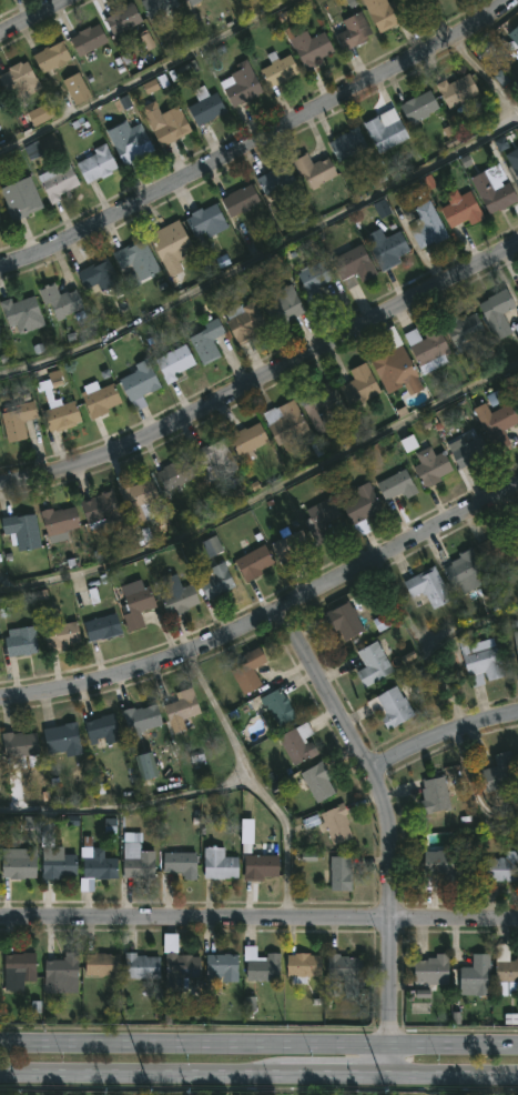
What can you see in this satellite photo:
building: (191, 2)
building: (158, 7)
building: (386, 12)
road: (32, 18)
building: (124, 20)
building: (352, 30)
building: (512, 38)
building: (87, 39)
building: (308, 46)
building: (51, 56)
road: (467, 59)
building: (277, 69)
road: (146, 74)
building: (16, 76)
building: (241, 83)
building: (74, 87)
building: (456, 89)
building: (0, 99)
building: (204, 106)
building: (418, 106)
building: (170, 125)
building: (385, 129)
road: (257, 138)
building: (346, 142)
building: (131, 143)
building: (42, 145)
building: (95, 162)
building: (313, 168)
building: (515, 168)
building: (57, 179)
building: (277, 179)
building: (492, 189)
building: (20, 197)
building: (240, 200)
building: (460, 208)
building: (205, 220)
building: (426, 224)
building: (0, 225)
building: (171, 244)
building: (387, 248)
road: (265, 259)
building: (135, 261)
building: (352, 264)
building: (97, 274)
building: (314, 281)
building: (59, 300)
building: (278, 303)
building: (496, 312)
building: (21, 313)
building: (243, 320)
building: (516, 327)
building: (464, 333)
building: (205, 340)
building: (517, 340)
building: (428, 348)
building: (173, 362)
building: (395, 370)
road: (264, 375)
building: (139, 380)
building: (358, 385)
building: (99, 398)
building: (57, 408)
building: (318, 408)
building: (17, 420)
building: (284, 421)
building: (497, 424)
building: (246, 438)
building: (467, 449)
building: (214, 456)
building: (429, 466)
building: (174, 473)
building: (396, 485)
building: (135, 496)
road: (265, 500)
building: (359, 505)
building: (100, 509)
building: (321, 519)
building: (58, 522)
building: (21, 530)
building: (517, 535)
building: (288, 547)
building: (498, 549)
building: (253, 562)
building: (464, 571)
building: (214, 580)
building: (427, 586)
building: (177, 597)
building: (134, 605)
road: (267, 614)
building: (343, 620)
building: (101, 626)
road: (470, 631)
building: (60, 635)
building: (20, 640)
building: (516, 641)
building: (479, 660)
building: (373, 664)
building: (247, 670)
road: (451, 695)
building: (277, 706)
building: (390, 707)
building: (181, 709)
building: (140, 717)
road: (222, 717)
building: (101, 727)
road: (443, 737)
building: (61, 739)
building: (296, 743)
building: (18, 745)
building: (144, 766)
building: (499, 773)
building: (317, 781)
building: (434, 794)
road: (130, 811)
building: (335, 823)
road: (388, 826)
road: (288, 846)
building: (136, 862)
building: (217, 863)
building: (17, 864)
building: (180, 864)
building: (446, 864)
building: (57, 865)
building: (94, 865)
building: (258, 866)
building: (502, 867)
building: (341, 873)
road: (258, 918)
building: (101, 964)
building: (177, 964)
building: (260, 965)
building: (140, 966)
building: (302, 966)
building: (344, 966)
building: (221, 968)
building: (18, 970)
building: (431, 970)
building: (505, 972)
building: (59, 973)
building: (476, 975)
road: (258, 1043)
road: (258, 1072)

